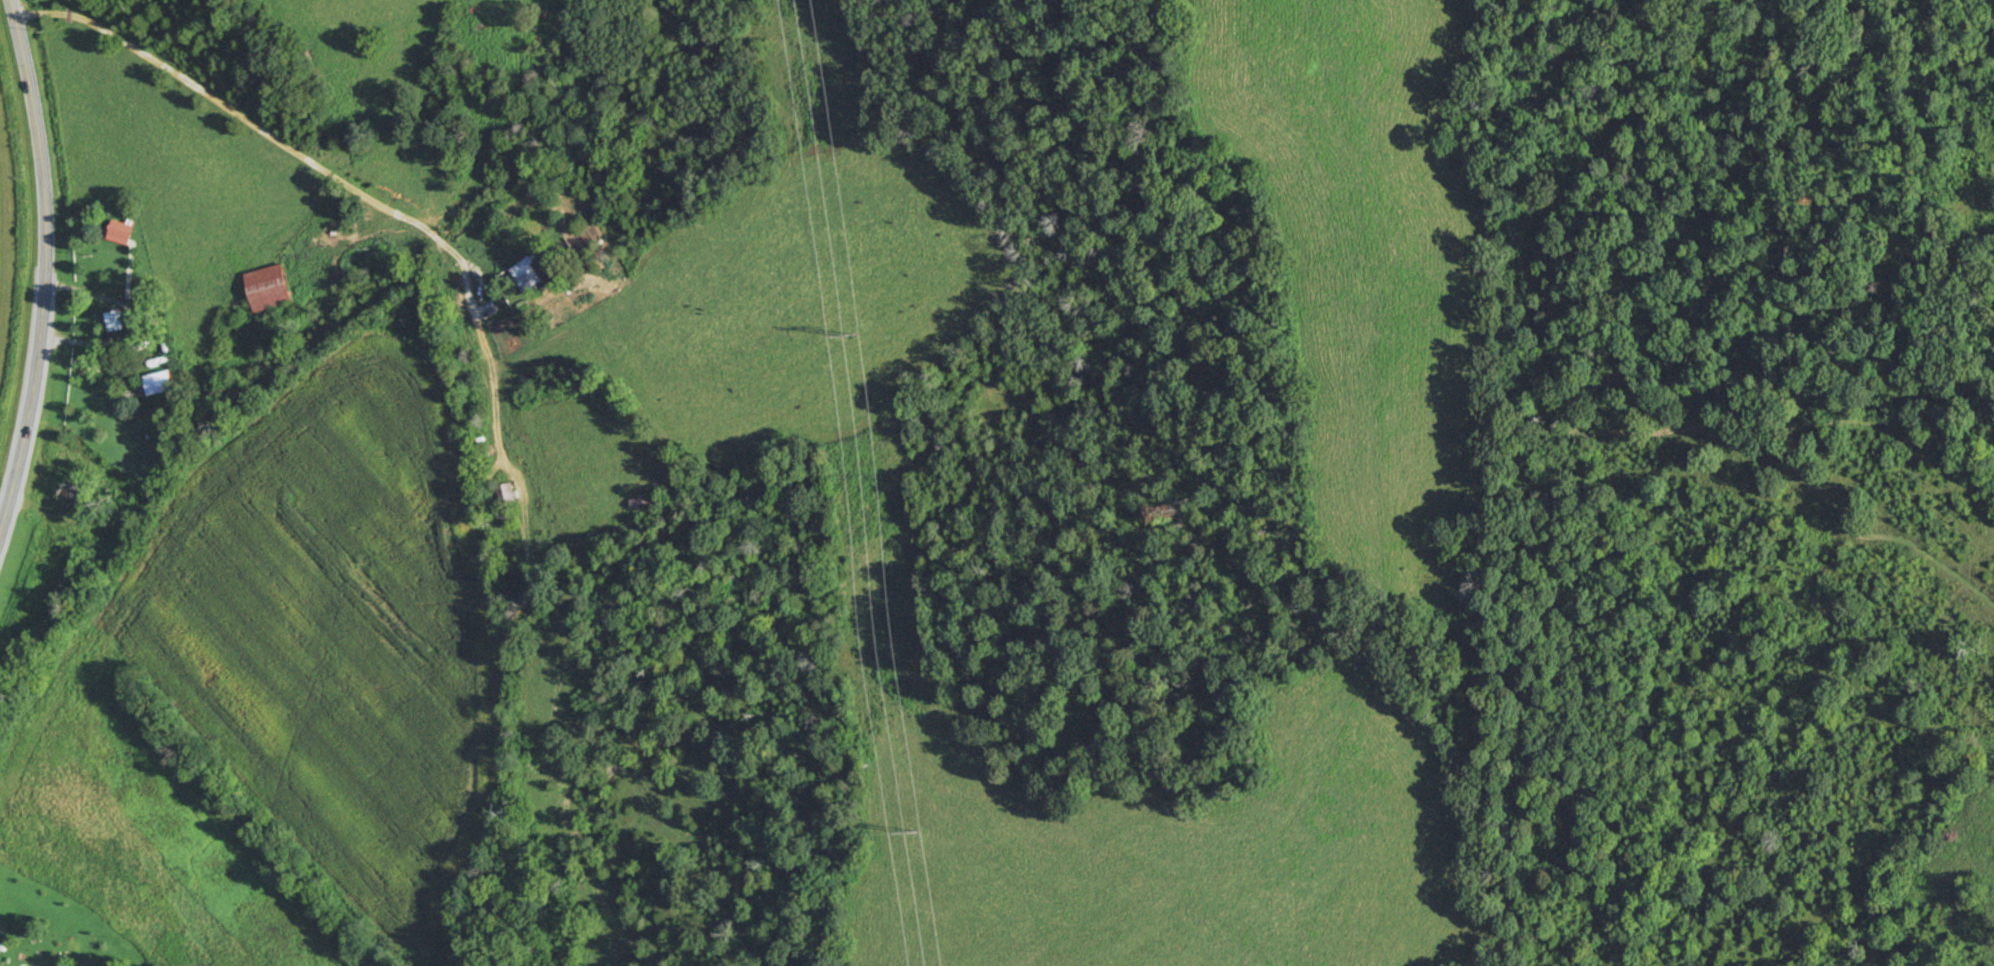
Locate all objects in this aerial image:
road: (369, 197)
road: (43, 265)
building: (529, 274)
building: (267, 288)
road: (142, 315)
building: (113, 320)
power tower: (848, 336)
building: (156, 383)
building: (505, 494)
building: (65, 496)
power tower: (911, 832)

